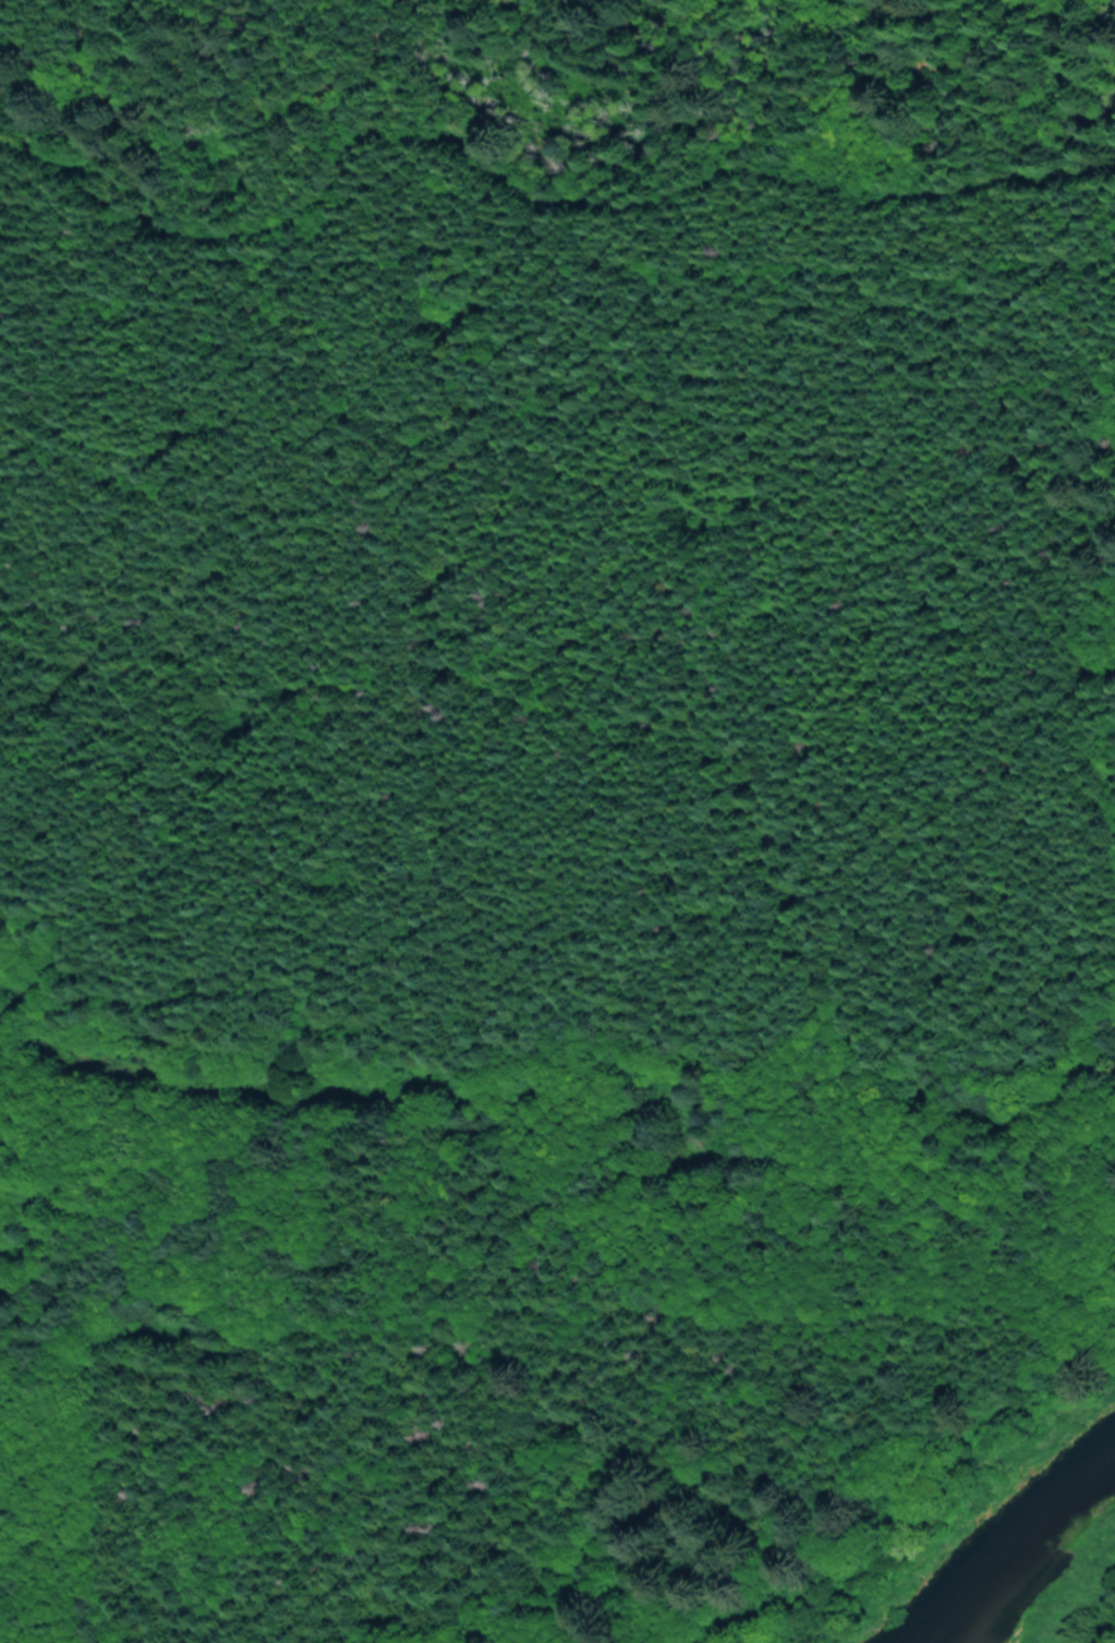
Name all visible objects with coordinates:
river: (1020, 1549)

